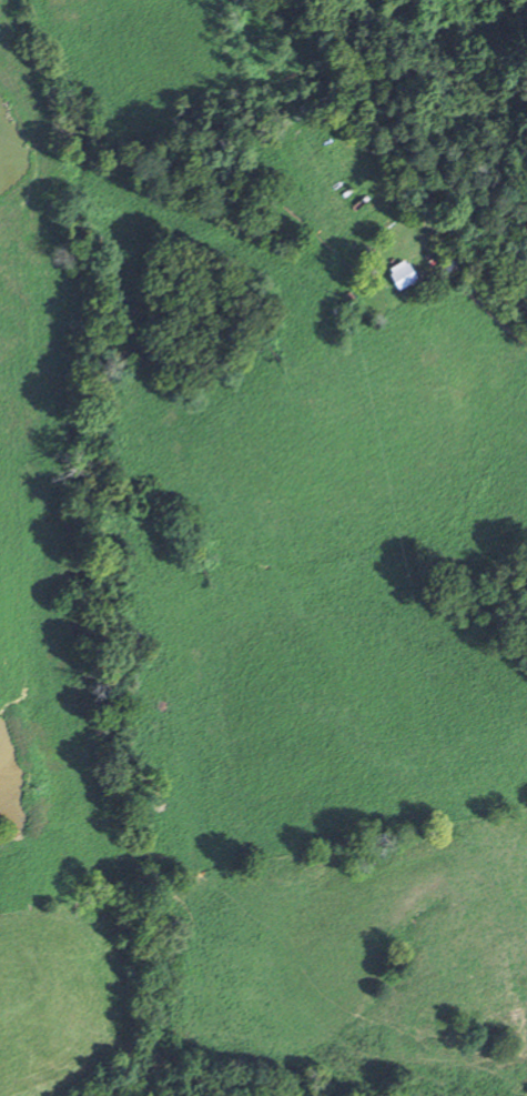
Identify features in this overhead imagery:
road: (416, 162)

